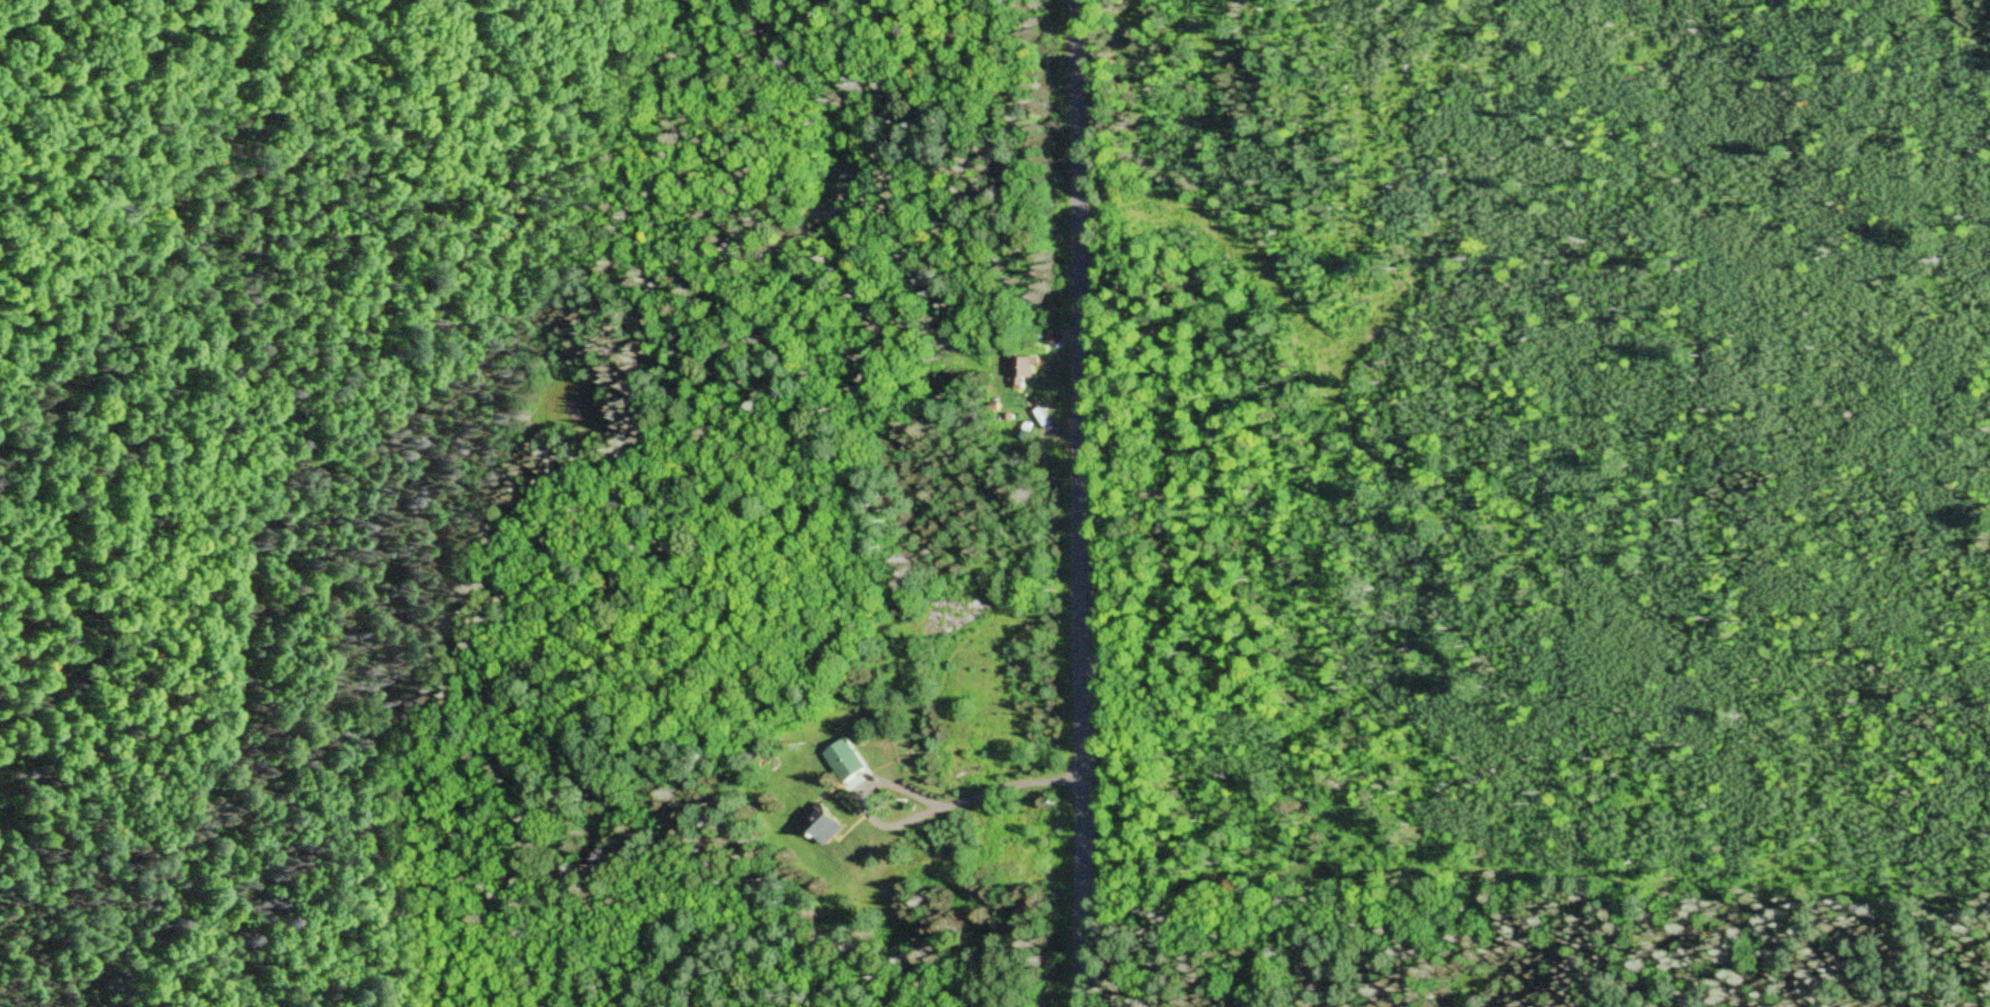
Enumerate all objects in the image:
building: (1028, 371)
road: (1096, 503)
building: (844, 764)
building: (822, 819)

